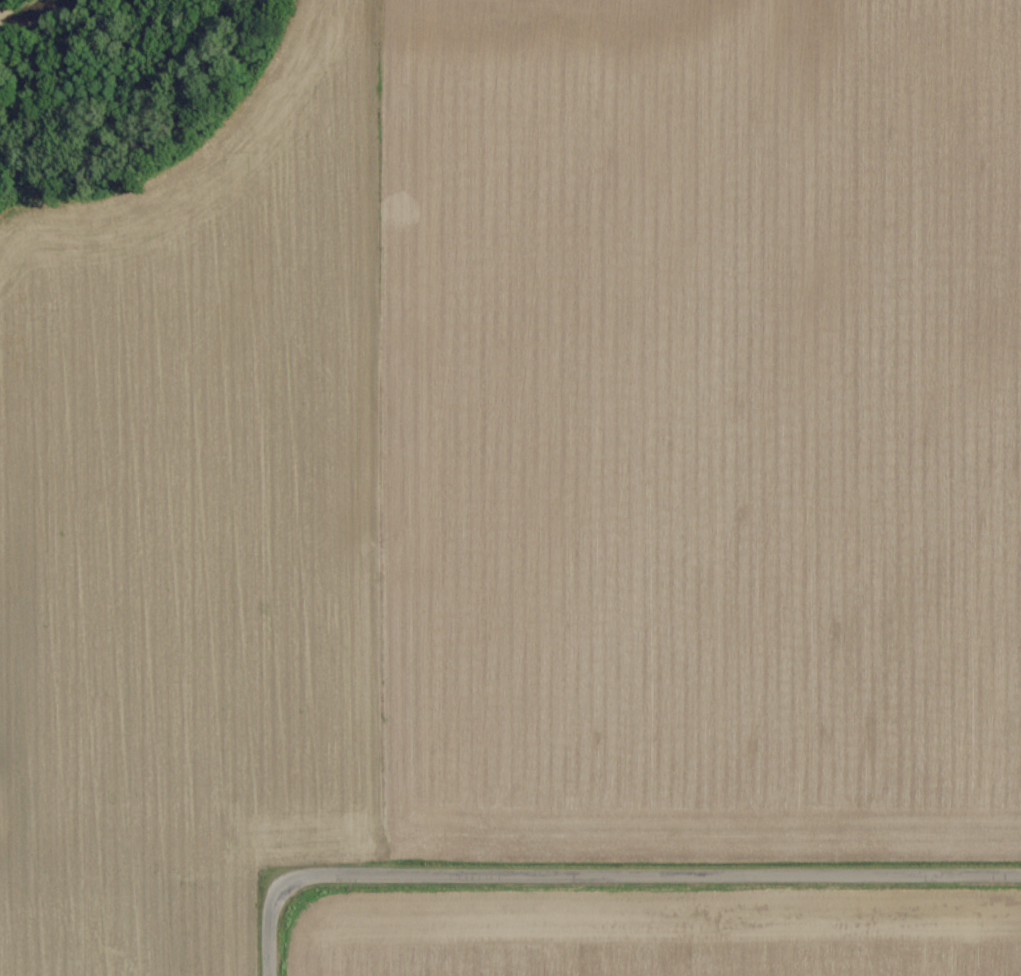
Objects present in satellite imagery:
road: (654, 890)
road: (286, 940)

